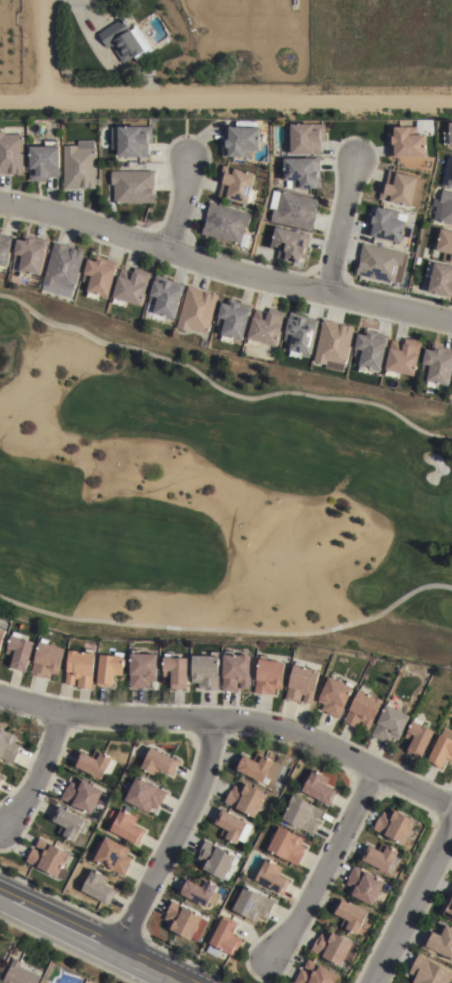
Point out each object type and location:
building: (124, 40)
road: (41, 46)
road: (225, 93)
building: (448, 134)
building: (305, 137)
building: (133, 139)
building: (239, 139)
building: (406, 142)
building: (11, 153)
building: (43, 161)
building: (79, 165)
building: (302, 171)
building: (447, 172)
building: (236, 183)
building: (133, 185)
building: (398, 187)
road: (180, 206)
building: (443, 206)
building: (294, 210)
building: (225, 222)
building: (385, 224)
road: (341, 227)
building: (0, 230)
building: (290, 243)
building: (445, 243)
building: (4, 250)
building: (29, 254)
building: (381, 263)
building: (62, 269)
road: (224, 269)
building: (99, 276)
building: (440, 277)
building: (131, 286)
building: (165, 296)
building: (197, 310)
building: (232, 319)
building: (264, 326)
building: (299, 333)
building: (203, 343)
building: (333, 344)
building: (370, 350)
building: (402, 358)
building: (437, 365)
building: (451, 390)
park: (217, 493)
building: (2, 637)
building: (19, 652)
building: (46, 660)
building: (80, 669)
building: (110, 669)
building: (141, 670)
building: (174, 671)
building: (204, 671)
building: (234, 671)
building: (268, 676)
building: (301, 684)
building: (334, 697)
building: (363, 711)
building: (390, 724)
road: (232, 725)
building: (418, 739)
building: (8, 747)
building: (441, 753)
building: (158, 764)
building: (93, 765)
building: (253, 769)
road: (38, 774)
building: (0, 776)
building: (0, 780)
building: (317, 789)
building: (143, 795)
building: (82, 797)
building: (245, 800)
building: (302, 816)
building: (69, 825)
building: (394, 827)
building: (125, 828)
building: (229, 828)
road: (171, 836)
building: (286, 847)
building: (111, 857)
building: (381, 858)
building: (50, 860)
building: (214, 861)
road: (327, 870)
building: (271, 878)
building: (363, 887)
building: (98, 889)
building: (199, 893)
building: (250, 905)
road: (414, 905)
building: (447, 908)
building: (352, 920)
building: (184, 924)
road: (91, 938)
building: (224, 940)
building: (439, 944)
building: (332, 950)
building: (429, 972)
building: (19, 975)
building: (315, 975)

